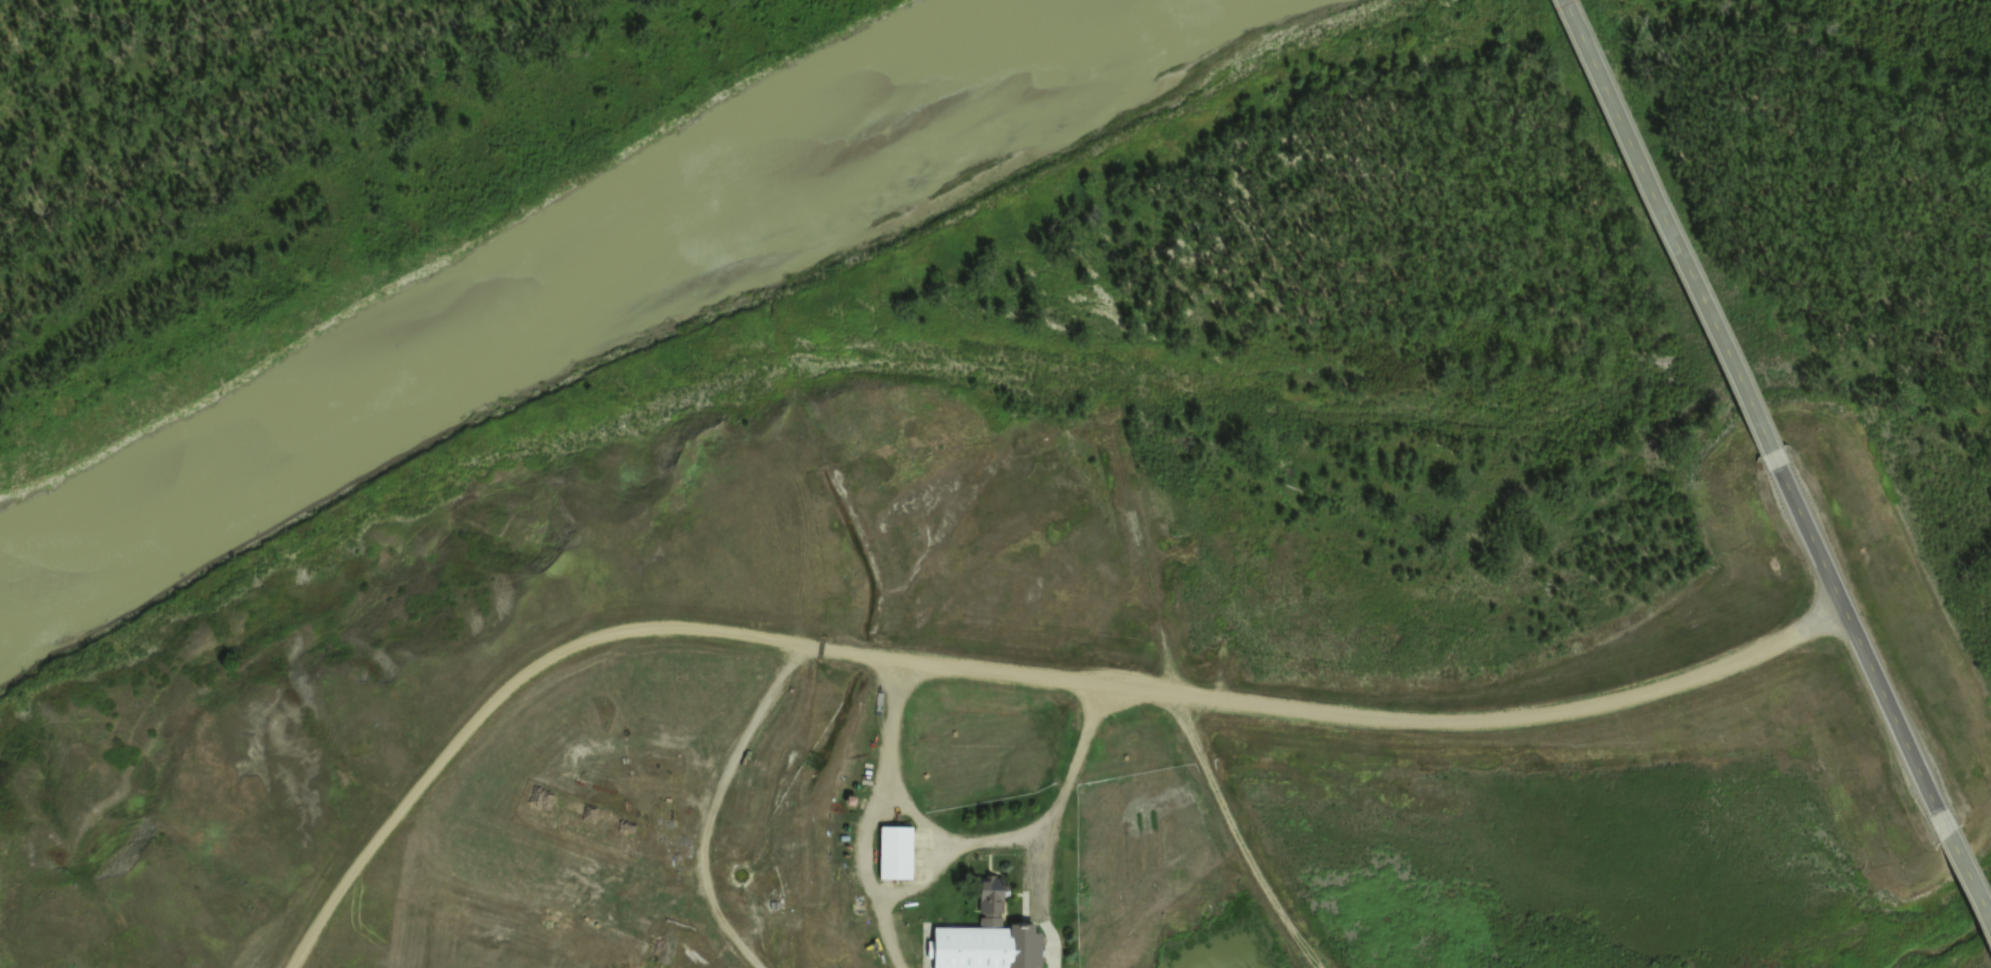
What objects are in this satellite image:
road: (1666, 246)
river: (517, 286)
road: (1861, 665)
road: (1003, 670)
road: (862, 813)
road: (1040, 821)
road: (1233, 837)
road: (948, 838)
building: (1977, 872)
road: (1965, 893)
building: (991, 897)
river: (1943, 939)
building: (974, 947)

